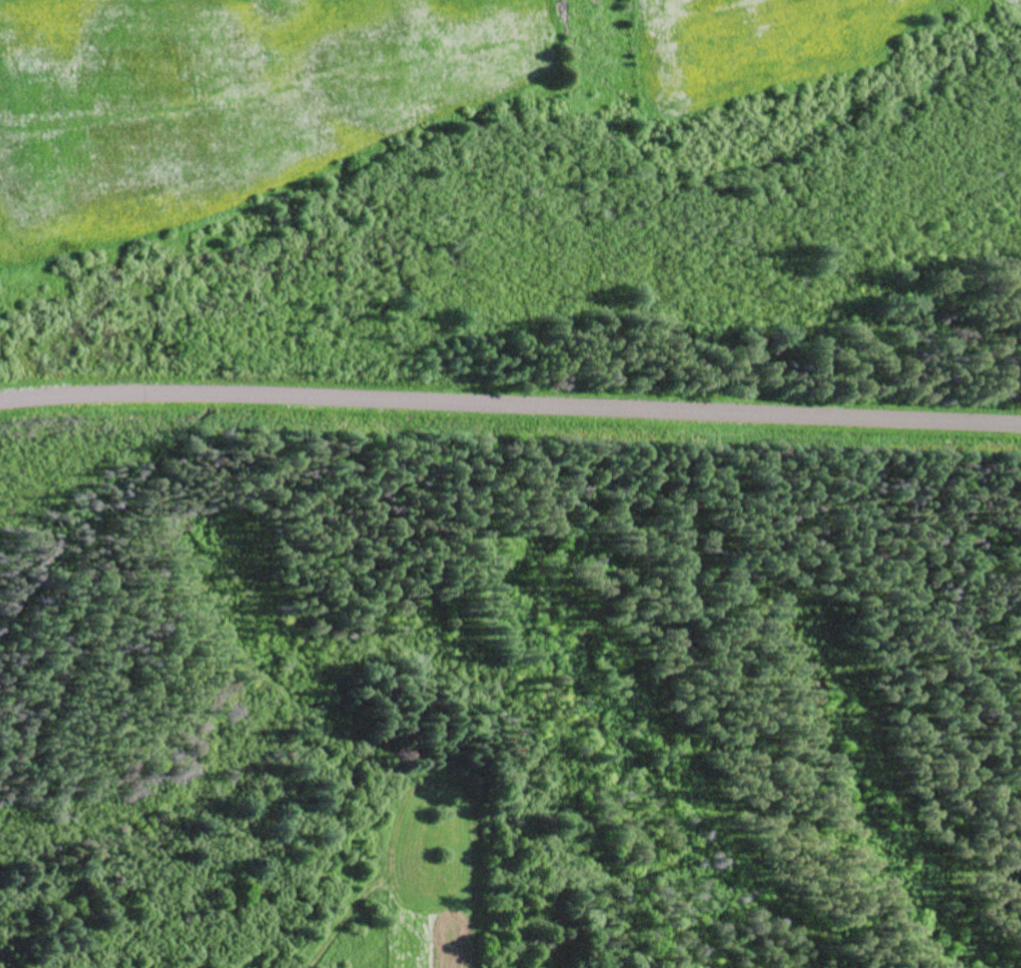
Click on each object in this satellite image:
road: (510, 403)

